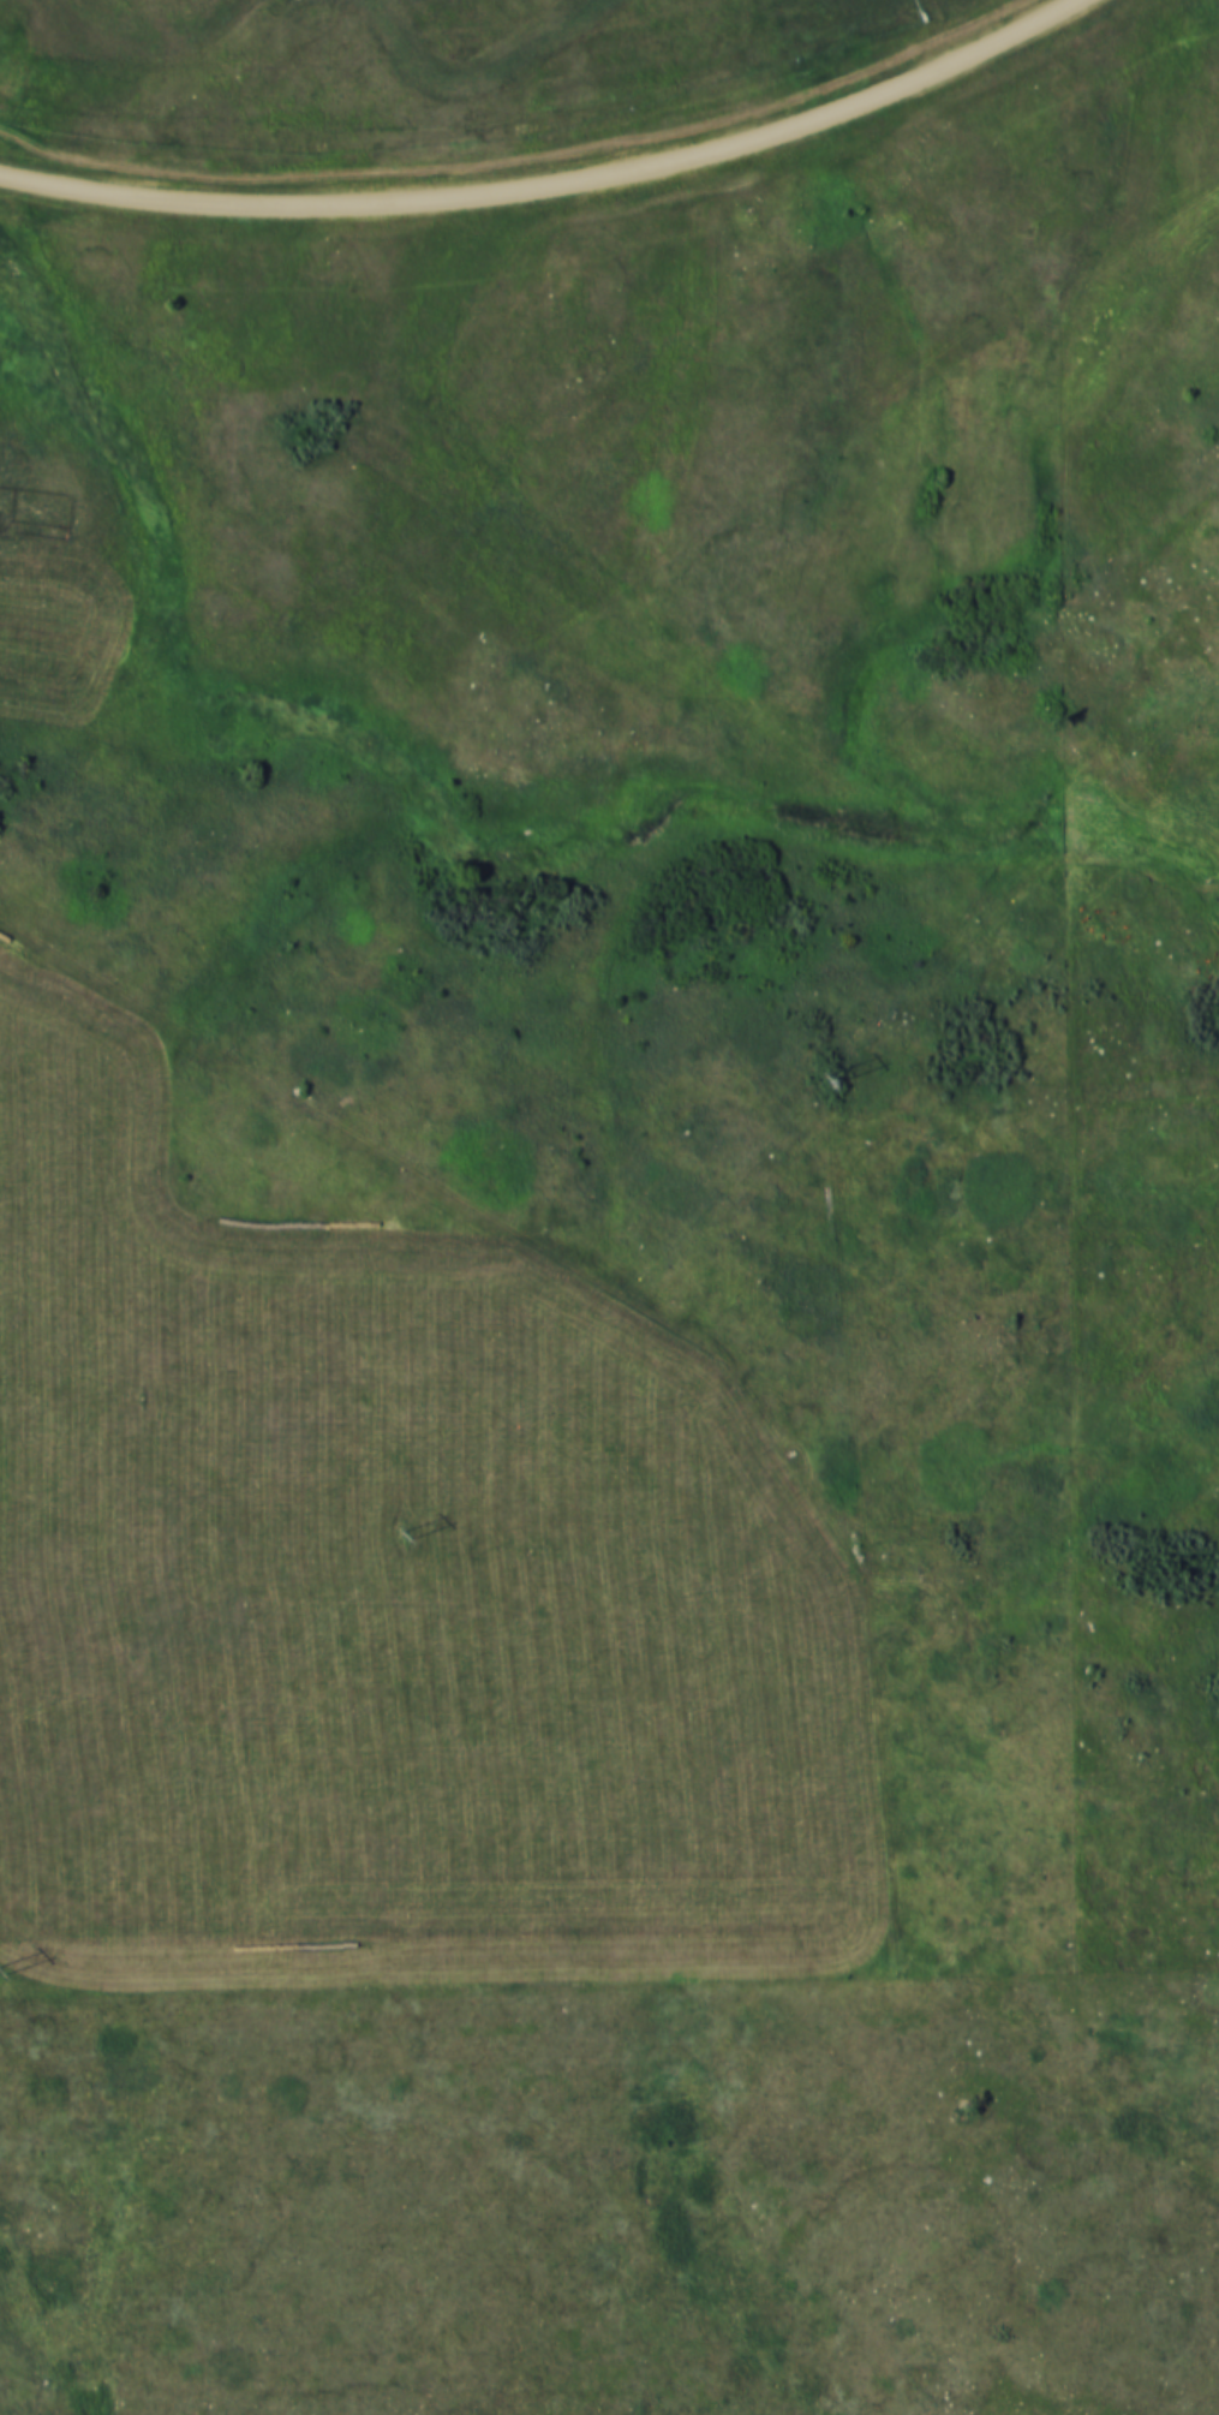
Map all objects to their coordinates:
road: (552, 178)
road: (1166, 810)
power tower: (842, 1077)
power tower: (412, 1539)
power tower: (6, 1976)

